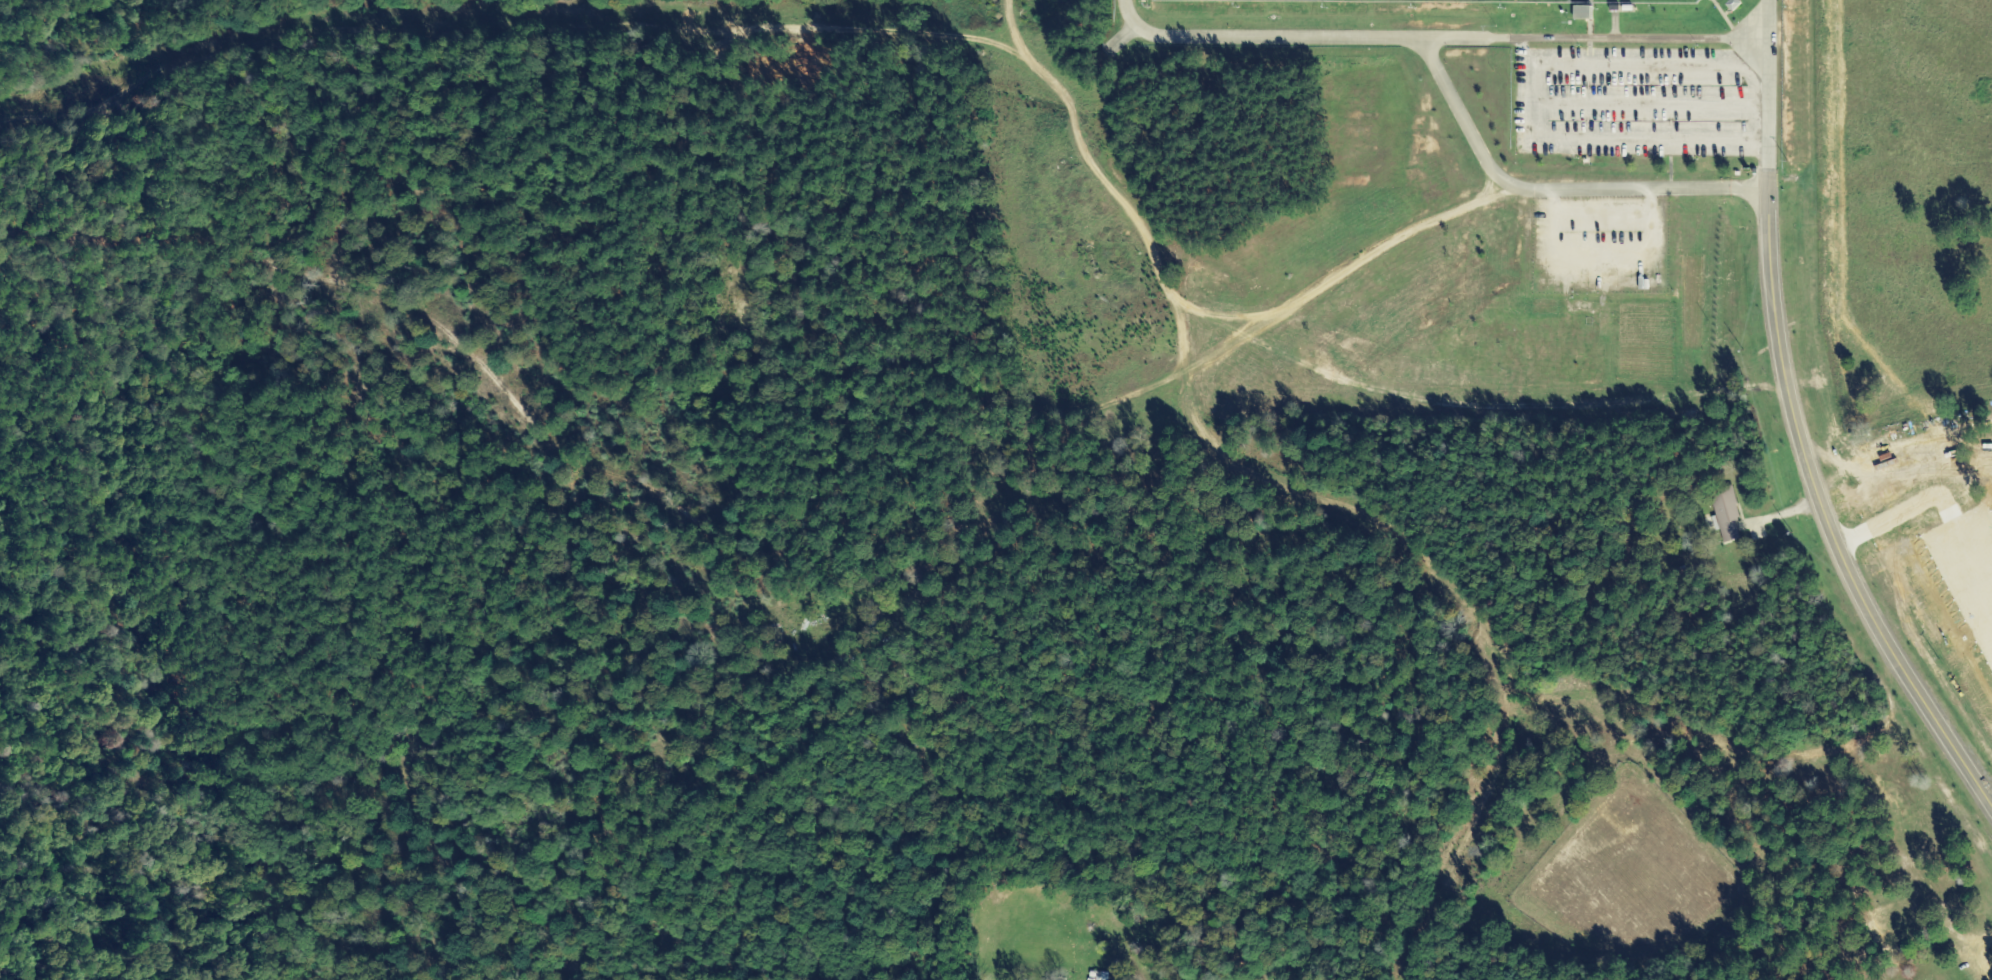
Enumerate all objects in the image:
building: (1580, 12)
parking lot: (1628, 98)
road: (1490, 171)
building: (1724, 513)
road: (1823, 518)
building: (1096, 975)

